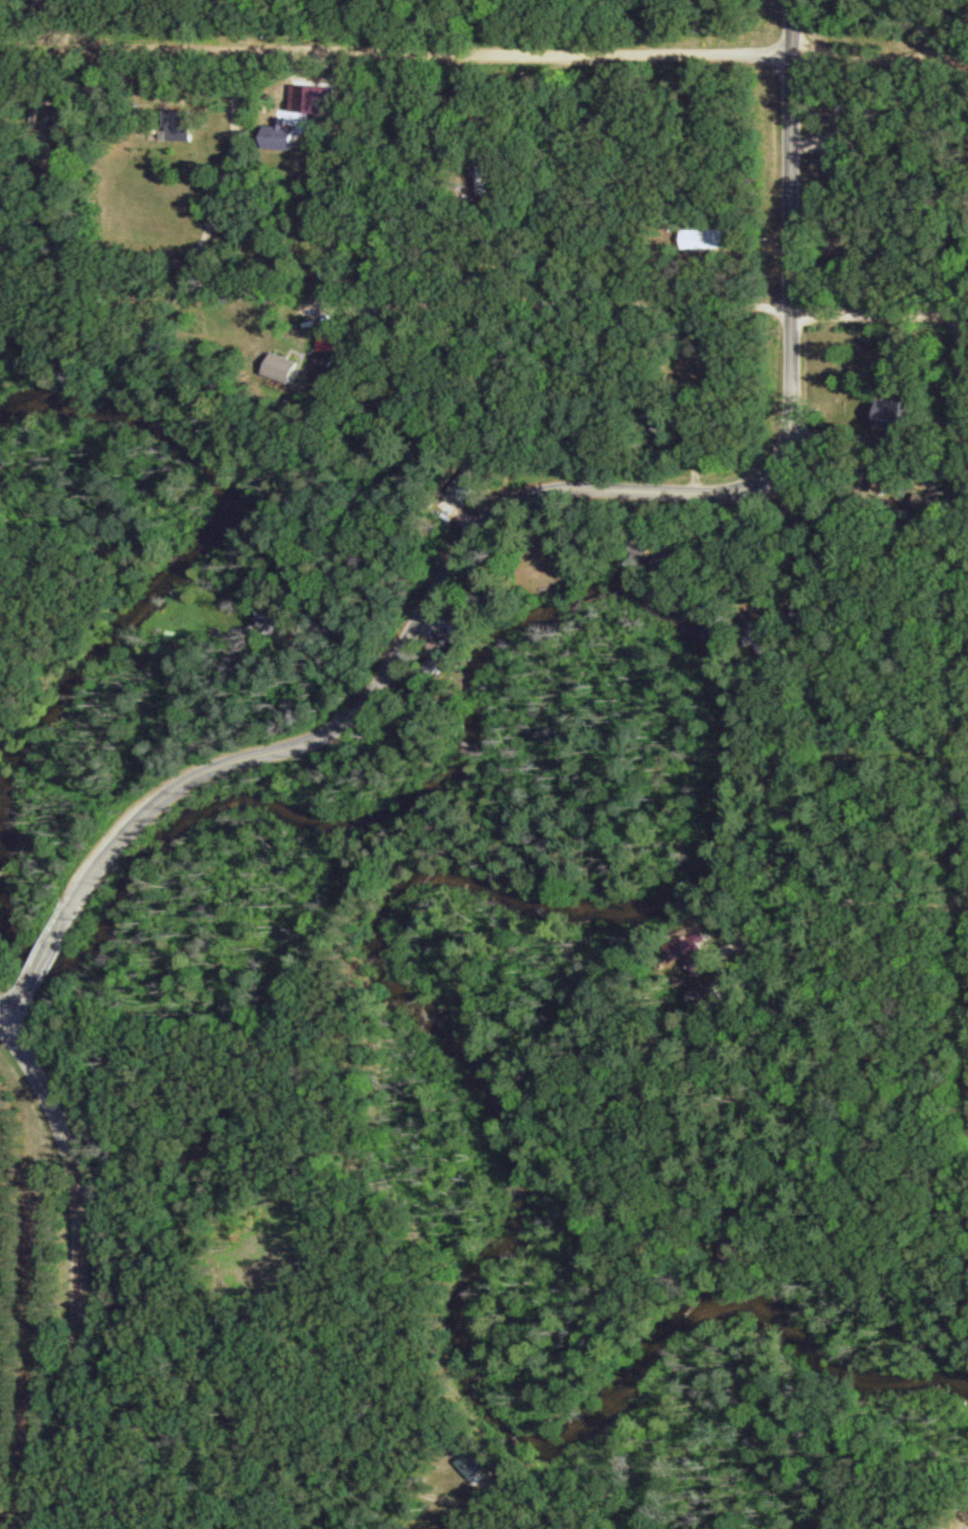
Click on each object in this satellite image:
road: (403, 48)
road: (880, 52)
building: (183, 124)
building: (285, 133)
building: (709, 236)
building: (865, 264)
road: (564, 306)
road: (939, 313)
building: (333, 337)
building: (169, 341)
building: (289, 363)
building: (664, 418)
road: (565, 489)
building: (765, 635)
river: (702, 639)
road: (48, 949)
road: (17, 1004)
road: (3, 1020)
road: (82, 1267)

